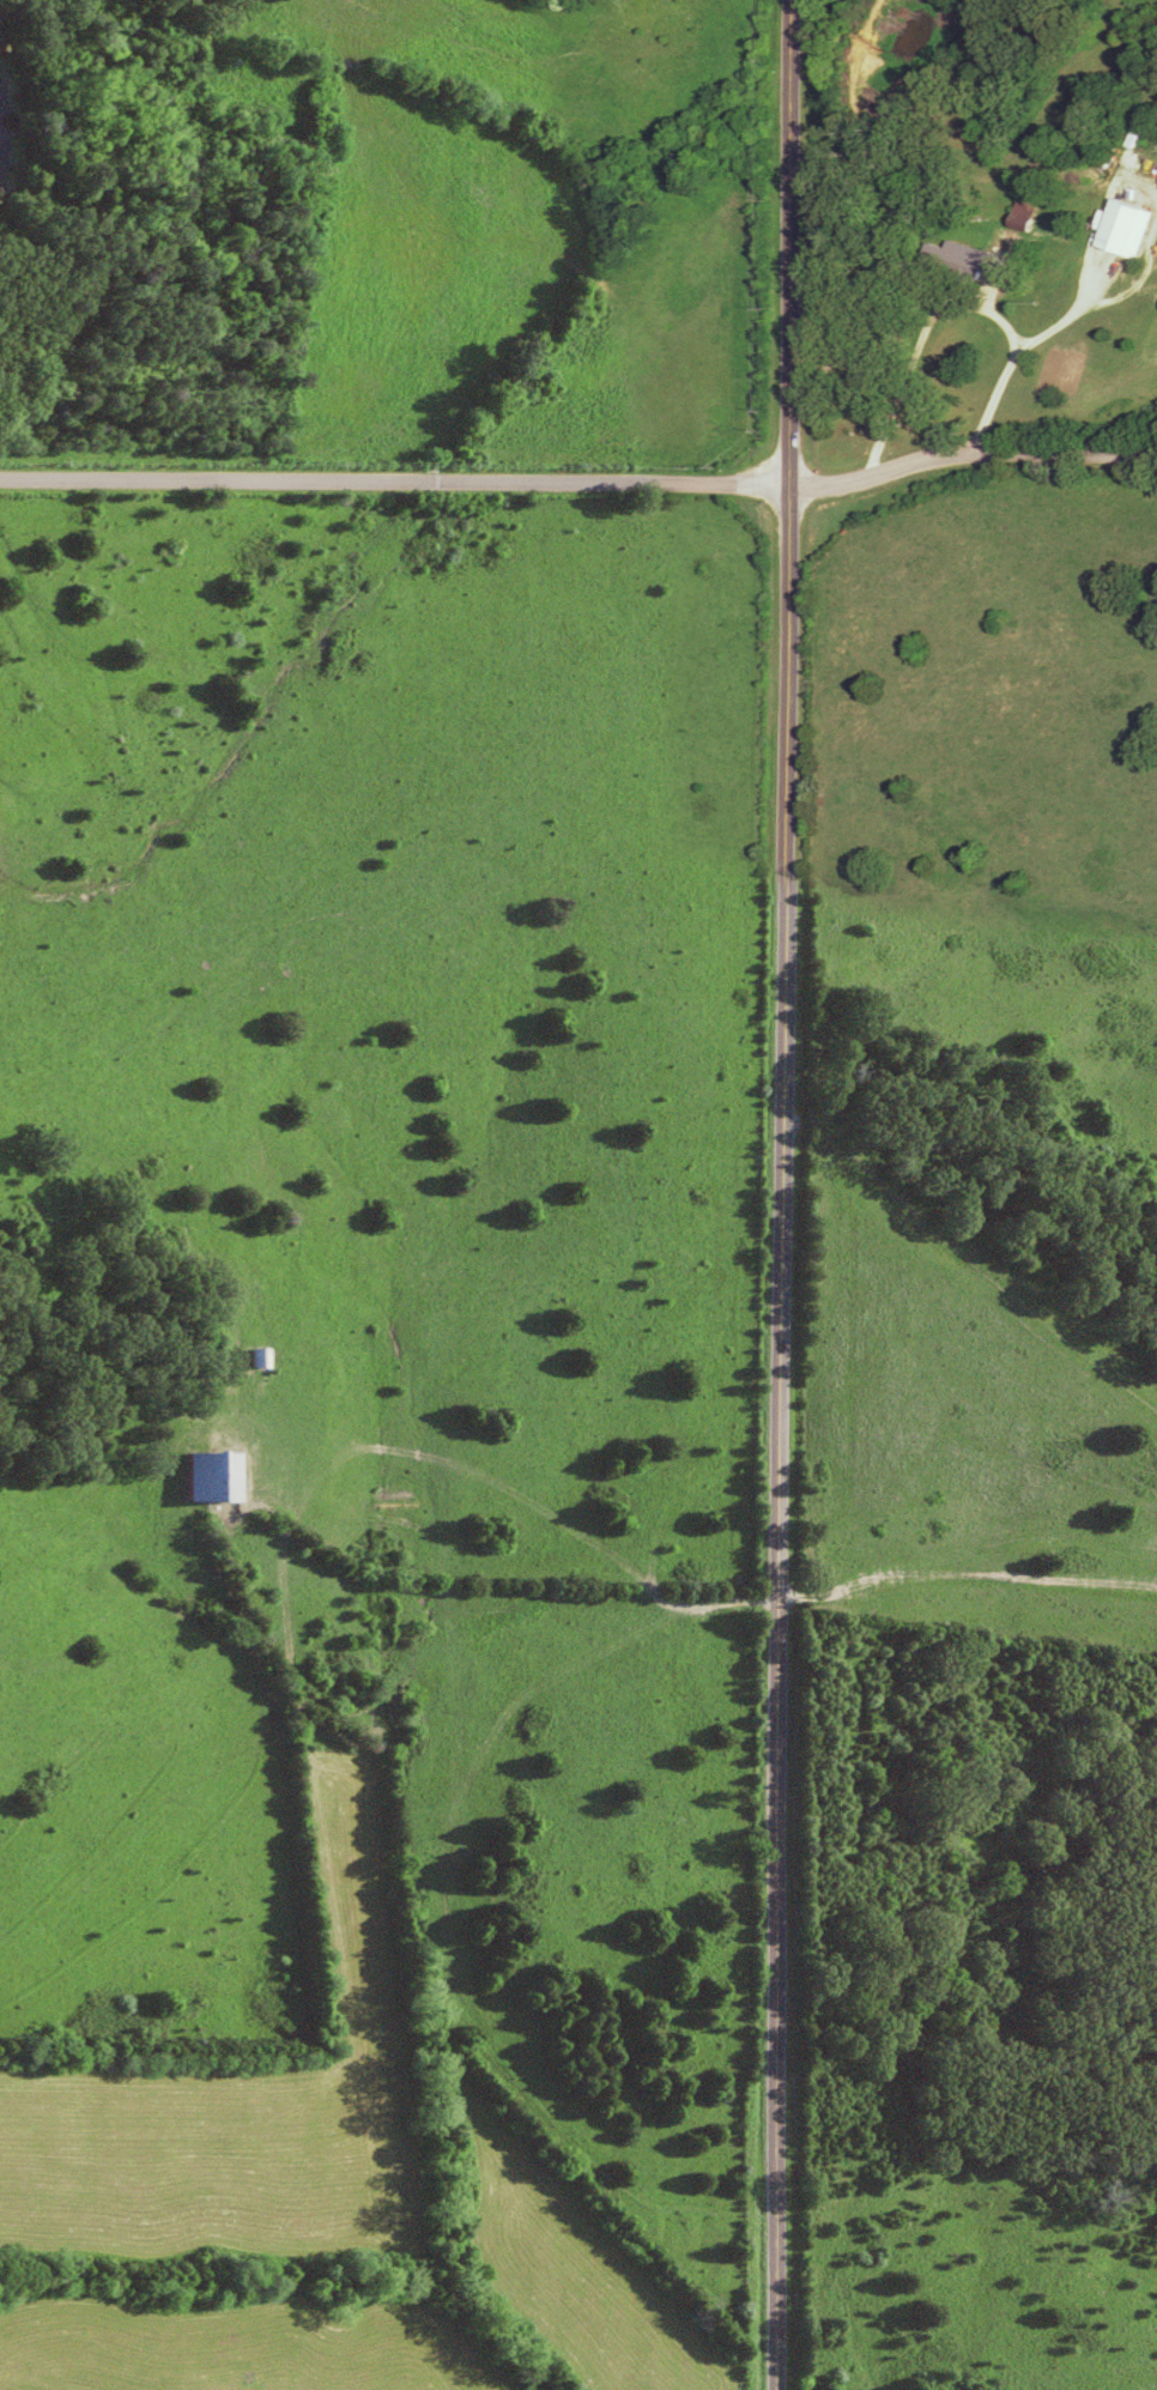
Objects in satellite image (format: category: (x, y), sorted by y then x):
building: (1134, 226)
road: (1031, 345)
road: (973, 456)
road: (396, 486)
road: (786, 1194)
building: (222, 1477)
road: (661, 1599)

